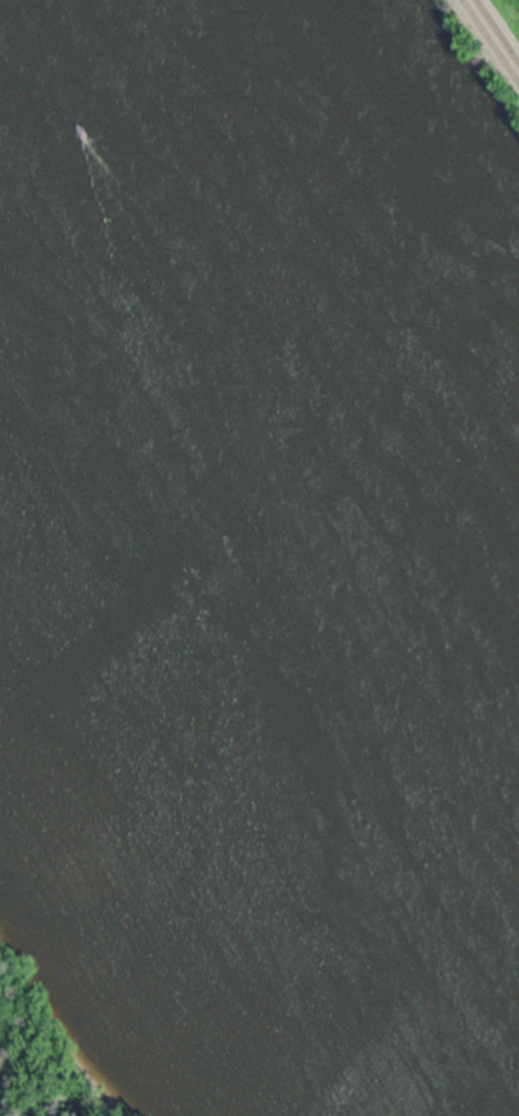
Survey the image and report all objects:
railway: (499, 28)
railway: (493, 37)
river: (249, 533)

